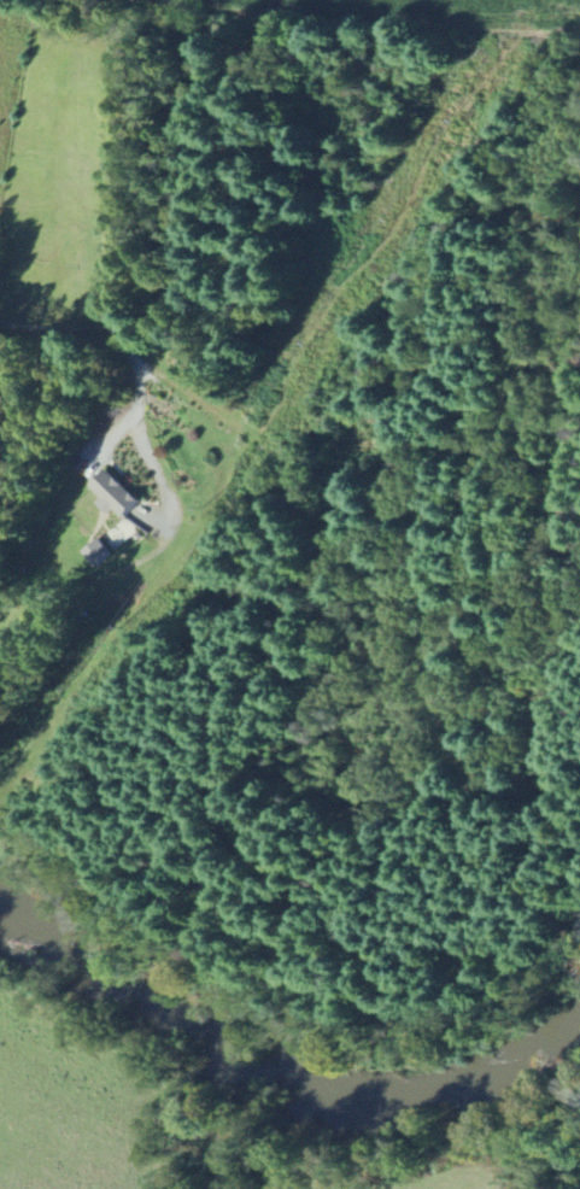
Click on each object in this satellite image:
road: (102, 340)
building: (111, 493)
building: (96, 552)
river: (121, 994)
river: (422, 1103)

